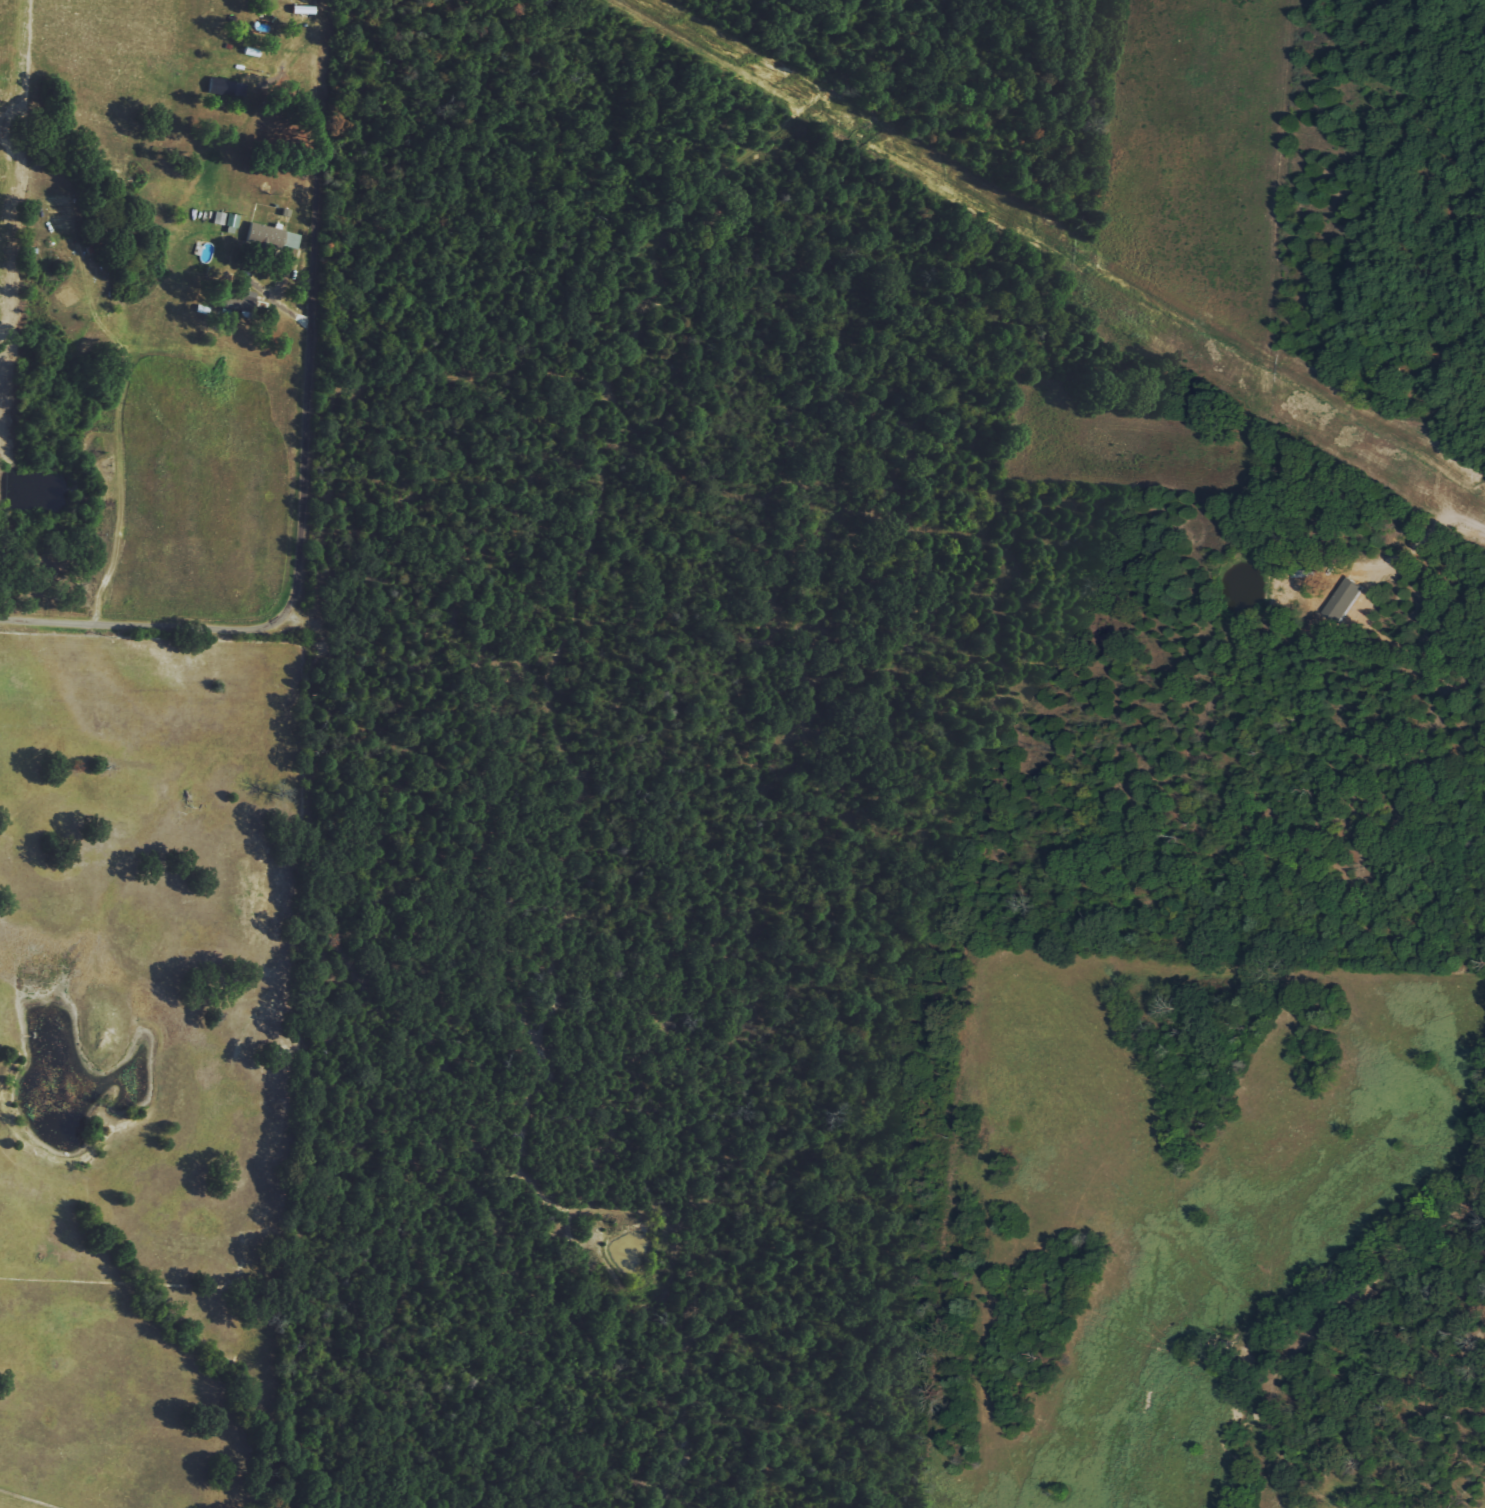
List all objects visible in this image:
building: (225, 86)
building: (270, 236)
building: (235, 299)
road: (283, 516)

